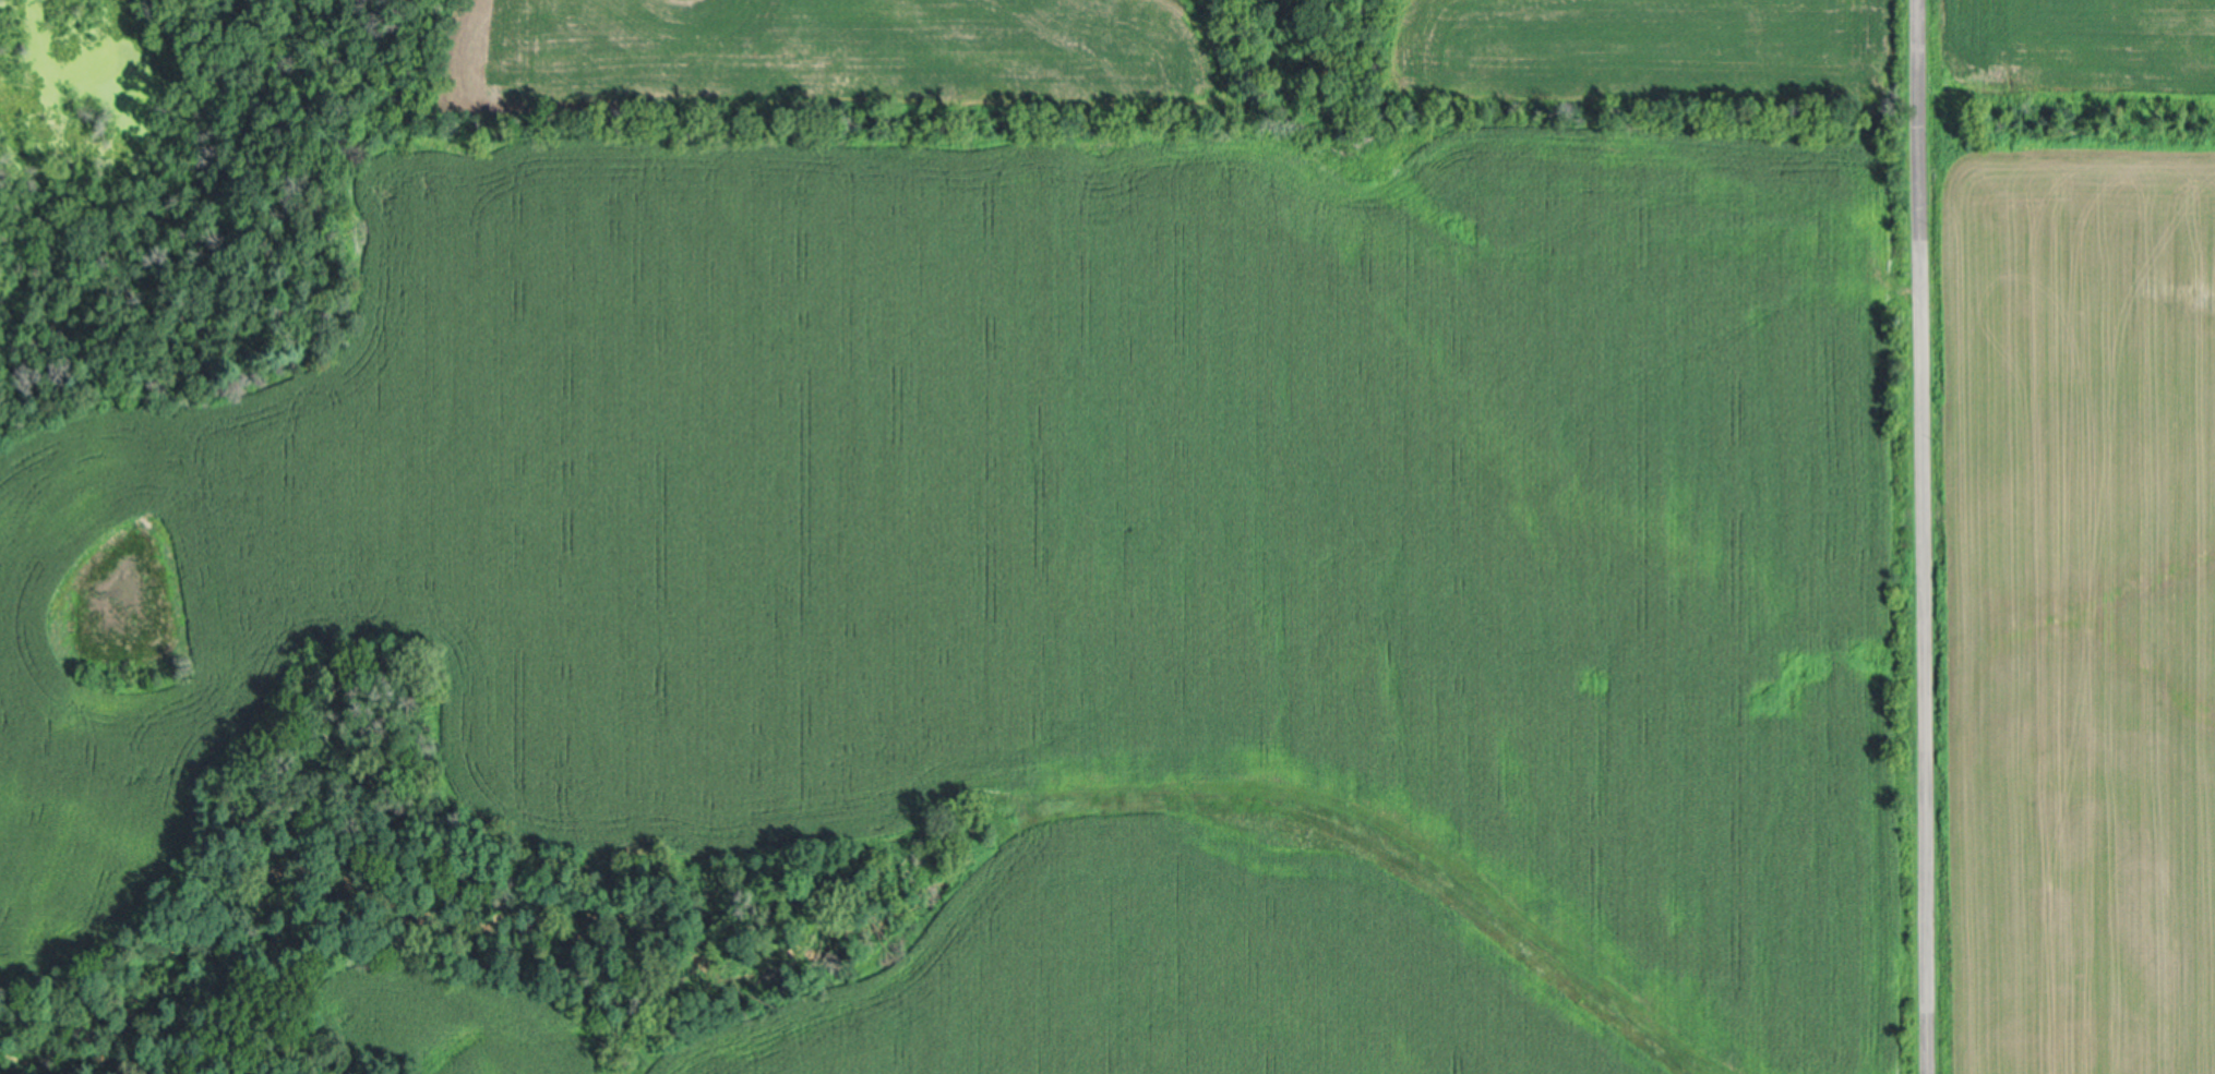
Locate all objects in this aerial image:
road: (1917, 536)

